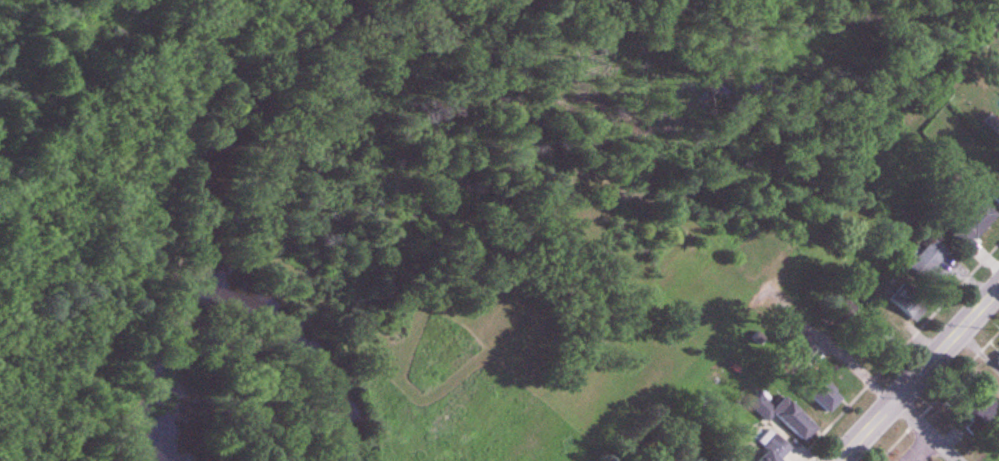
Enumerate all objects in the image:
river: (521, 165)
building: (975, 224)
building: (930, 265)
building: (909, 304)
building: (841, 309)
building: (875, 343)
building: (997, 360)
road: (919, 375)
road: (874, 385)
building: (825, 396)
building: (981, 411)
building: (785, 416)
building: (774, 448)

